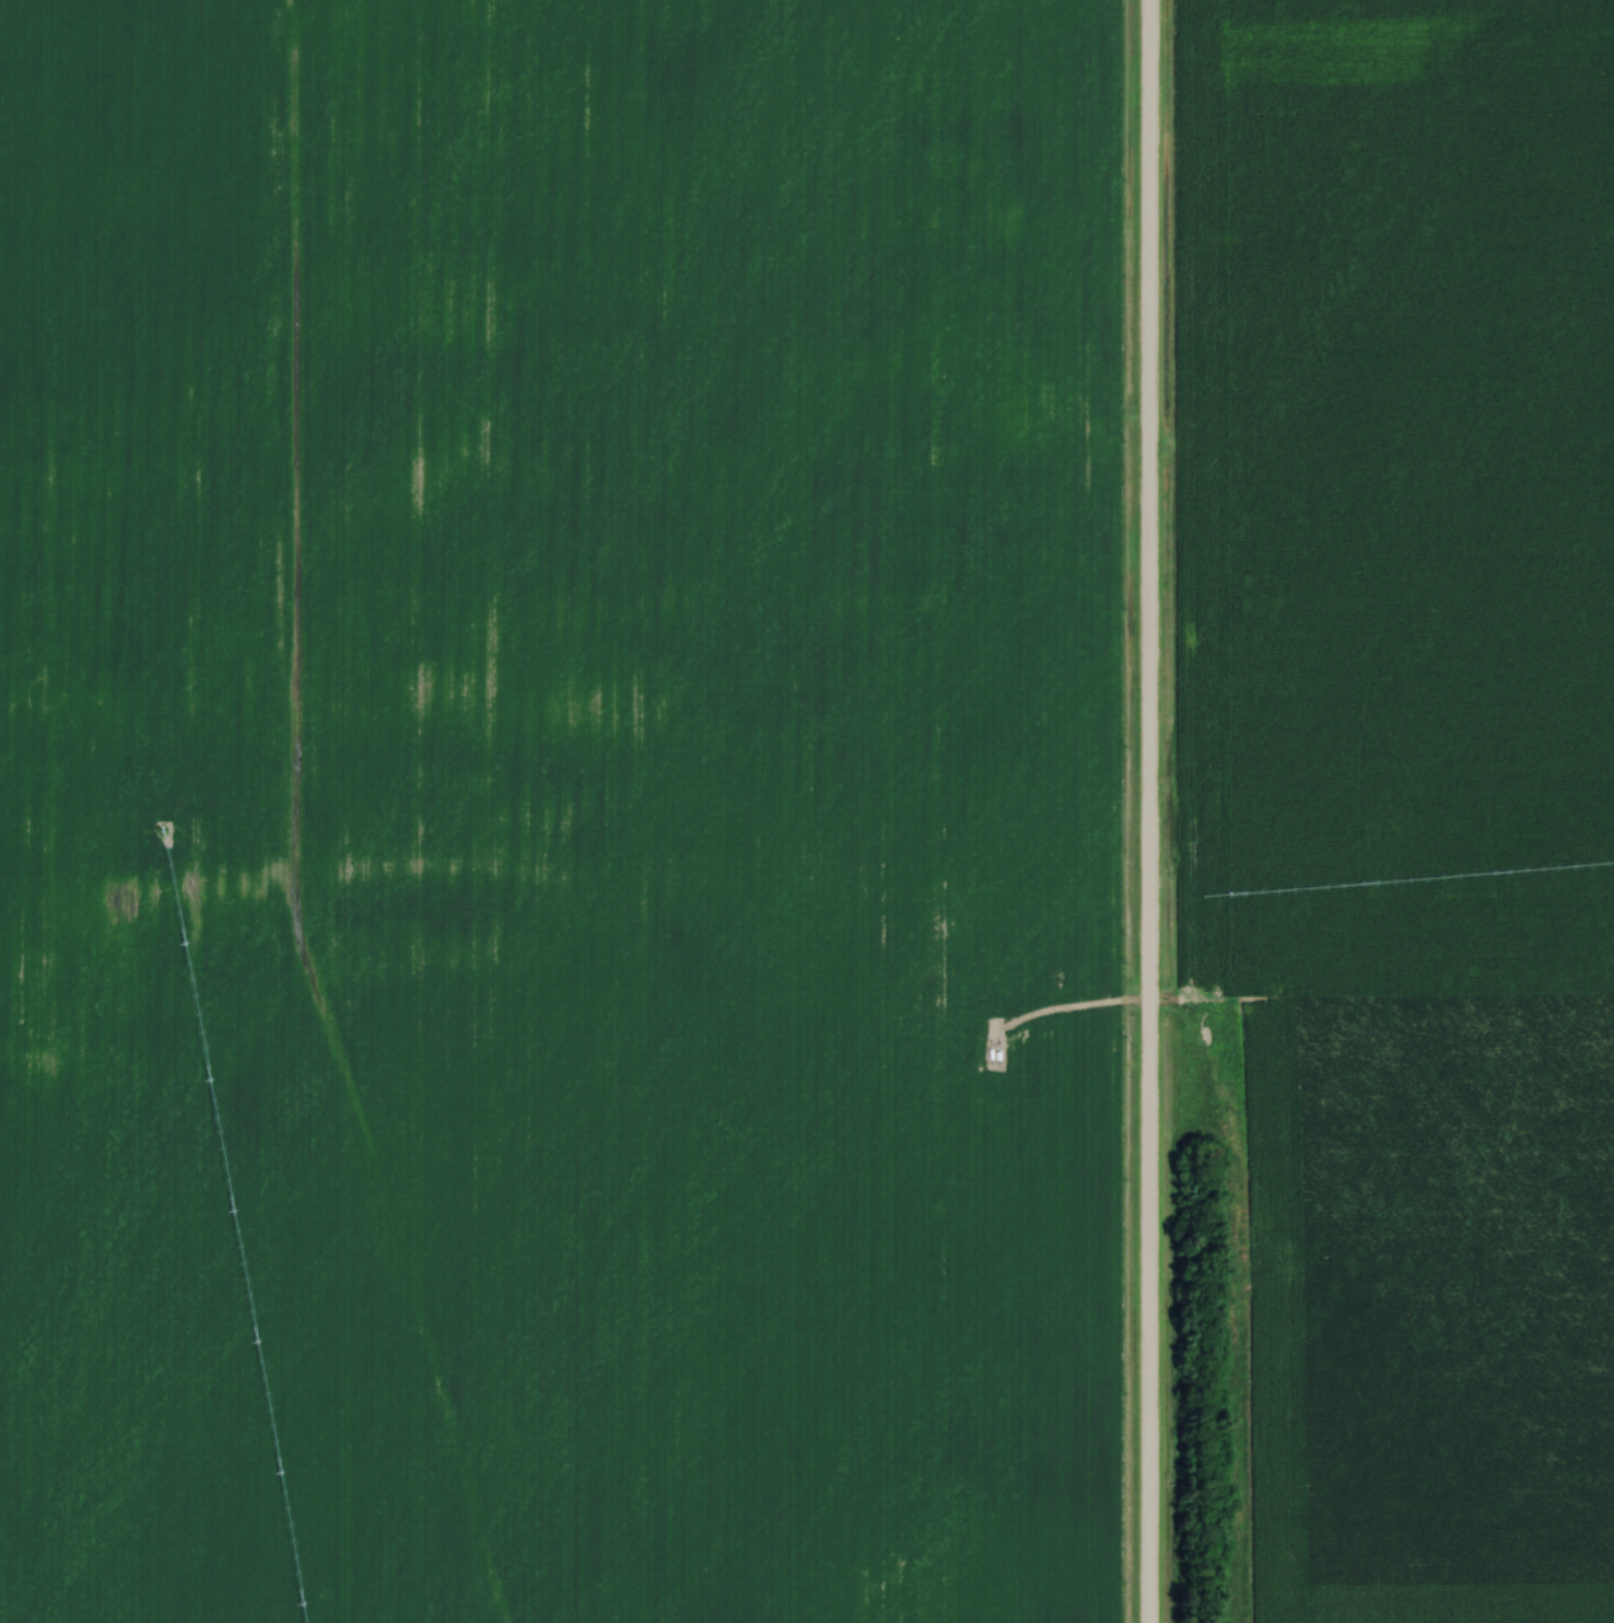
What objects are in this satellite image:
road: (1153, 811)

